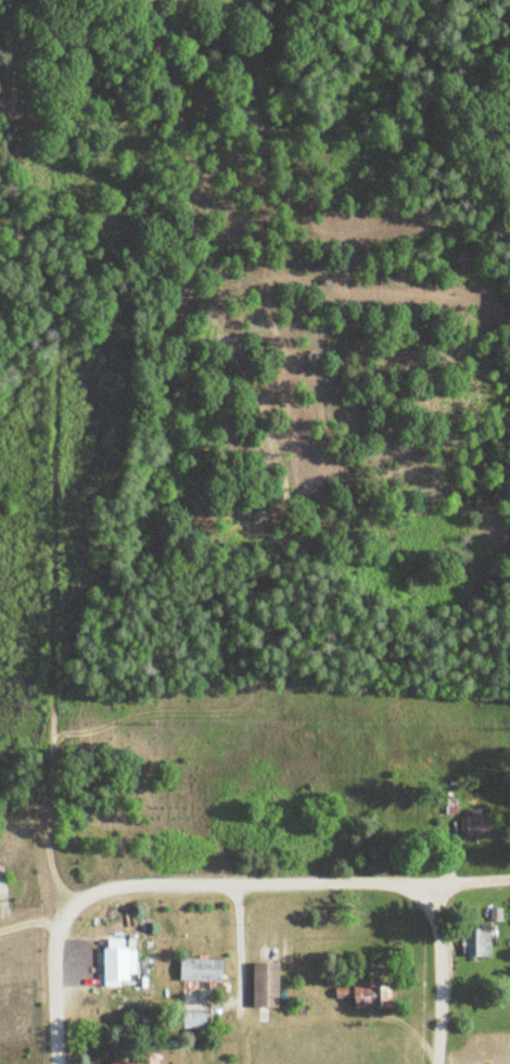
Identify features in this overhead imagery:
building: (476, 825)
road: (461, 878)
road: (345, 879)
road: (160, 883)
building: (496, 915)
road: (31, 921)
building: (480, 943)
building: (118, 963)
building: (203, 970)
road: (242, 973)
road: (56, 977)
building: (268, 984)
road: (442, 986)
building: (368, 995)
building: (199, 1019)
building: (137, 1060)

